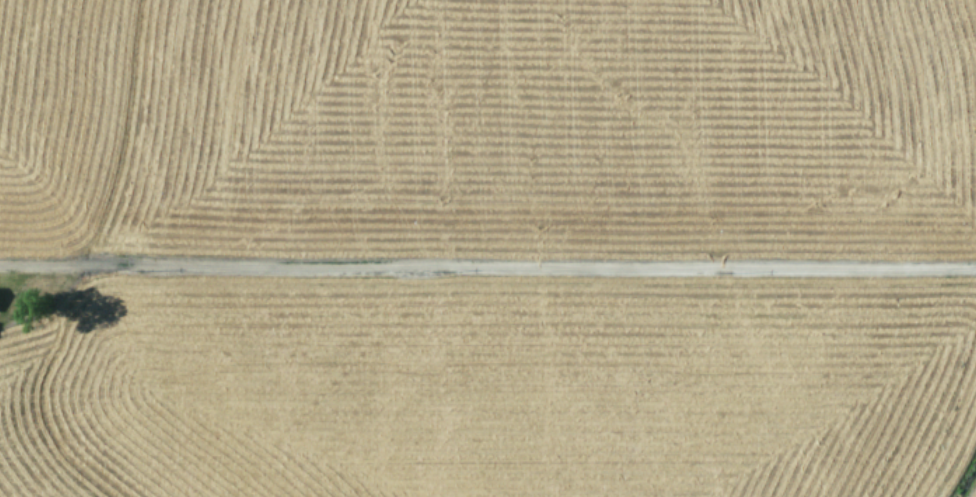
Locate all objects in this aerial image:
crop: (488, 248)

